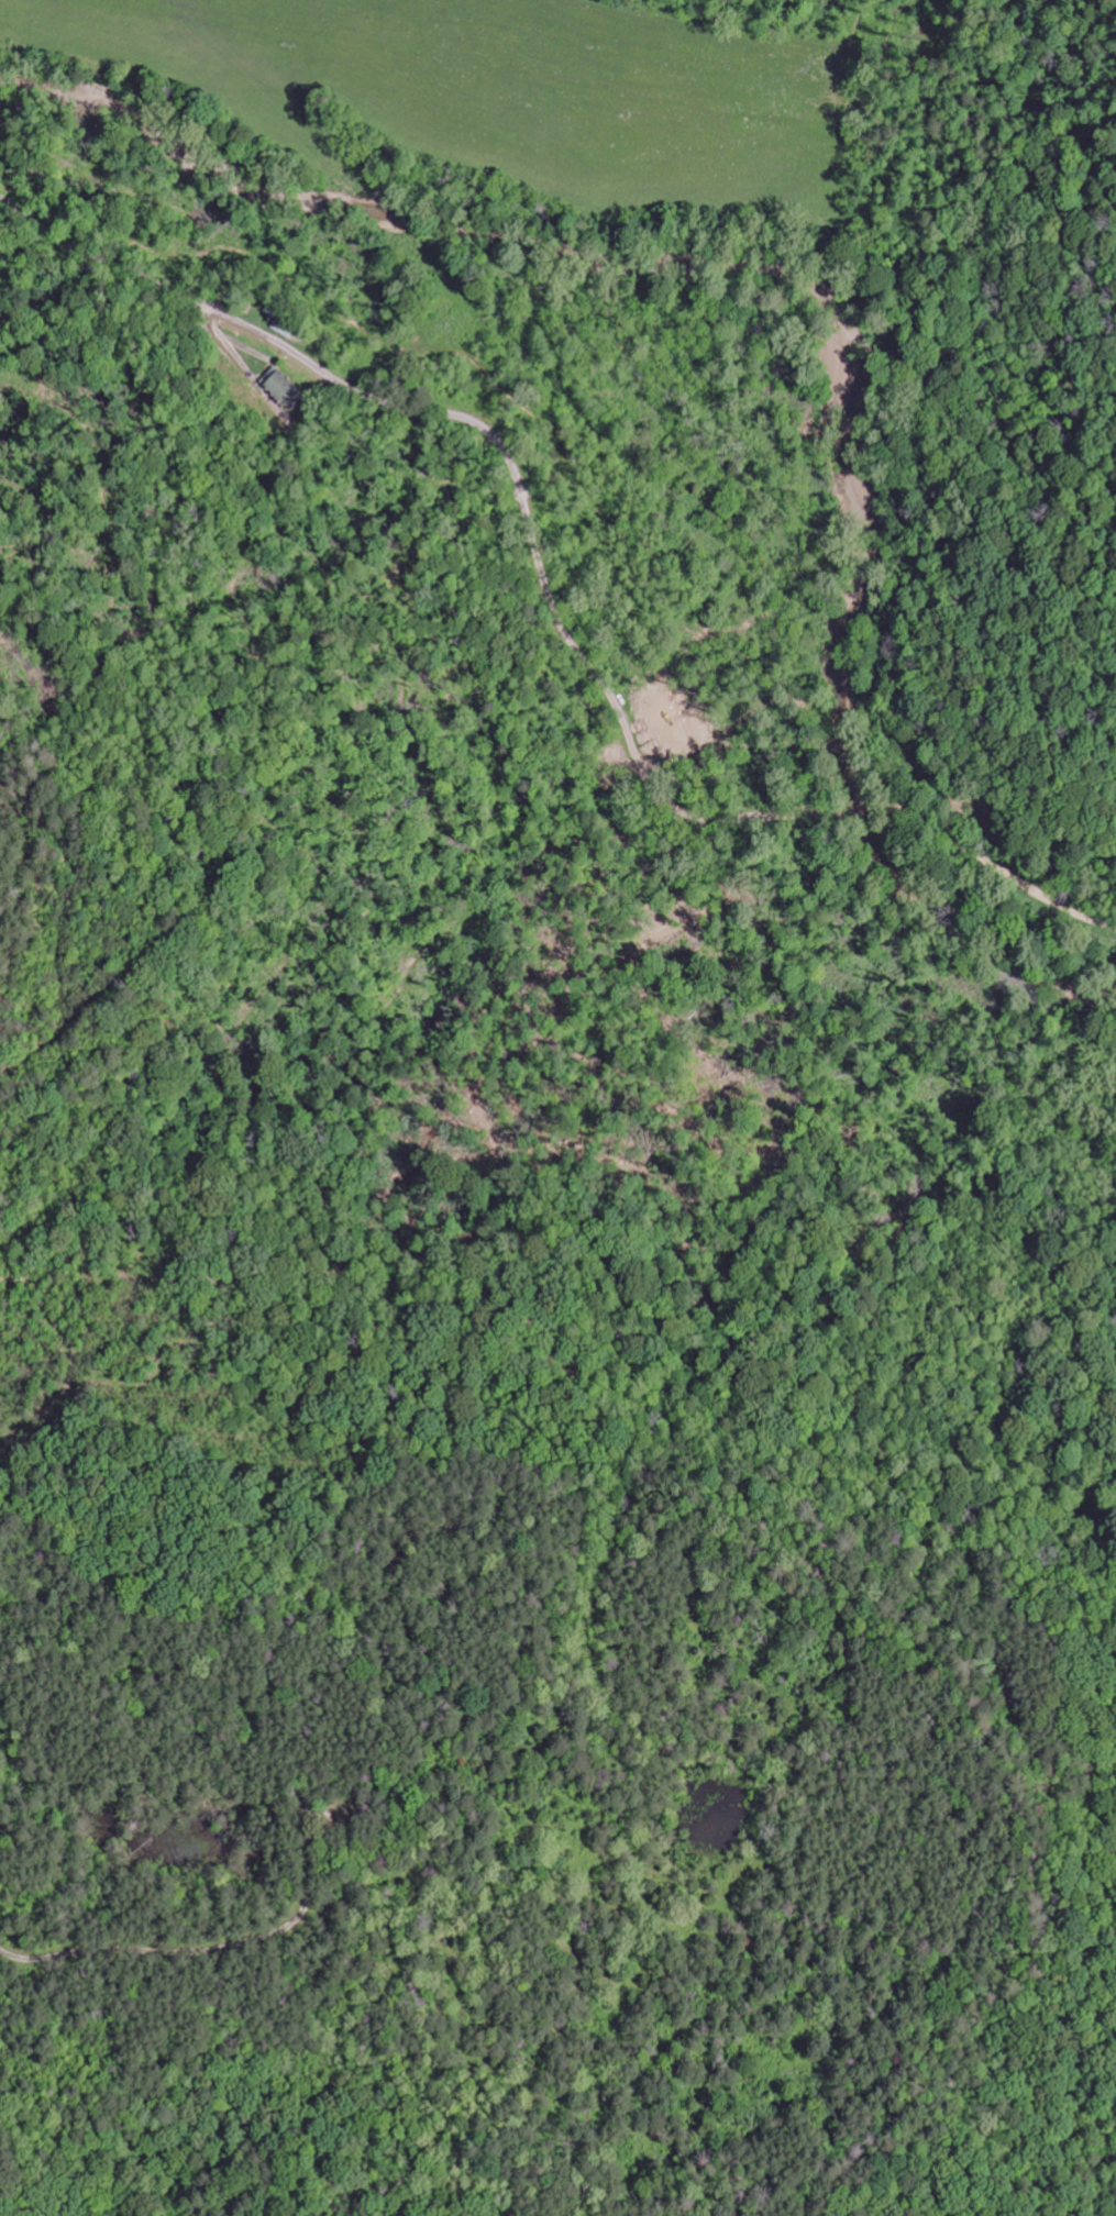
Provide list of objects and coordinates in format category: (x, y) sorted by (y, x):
building: (284, 391)
road: (548, 598)
road: (165, 1947)

